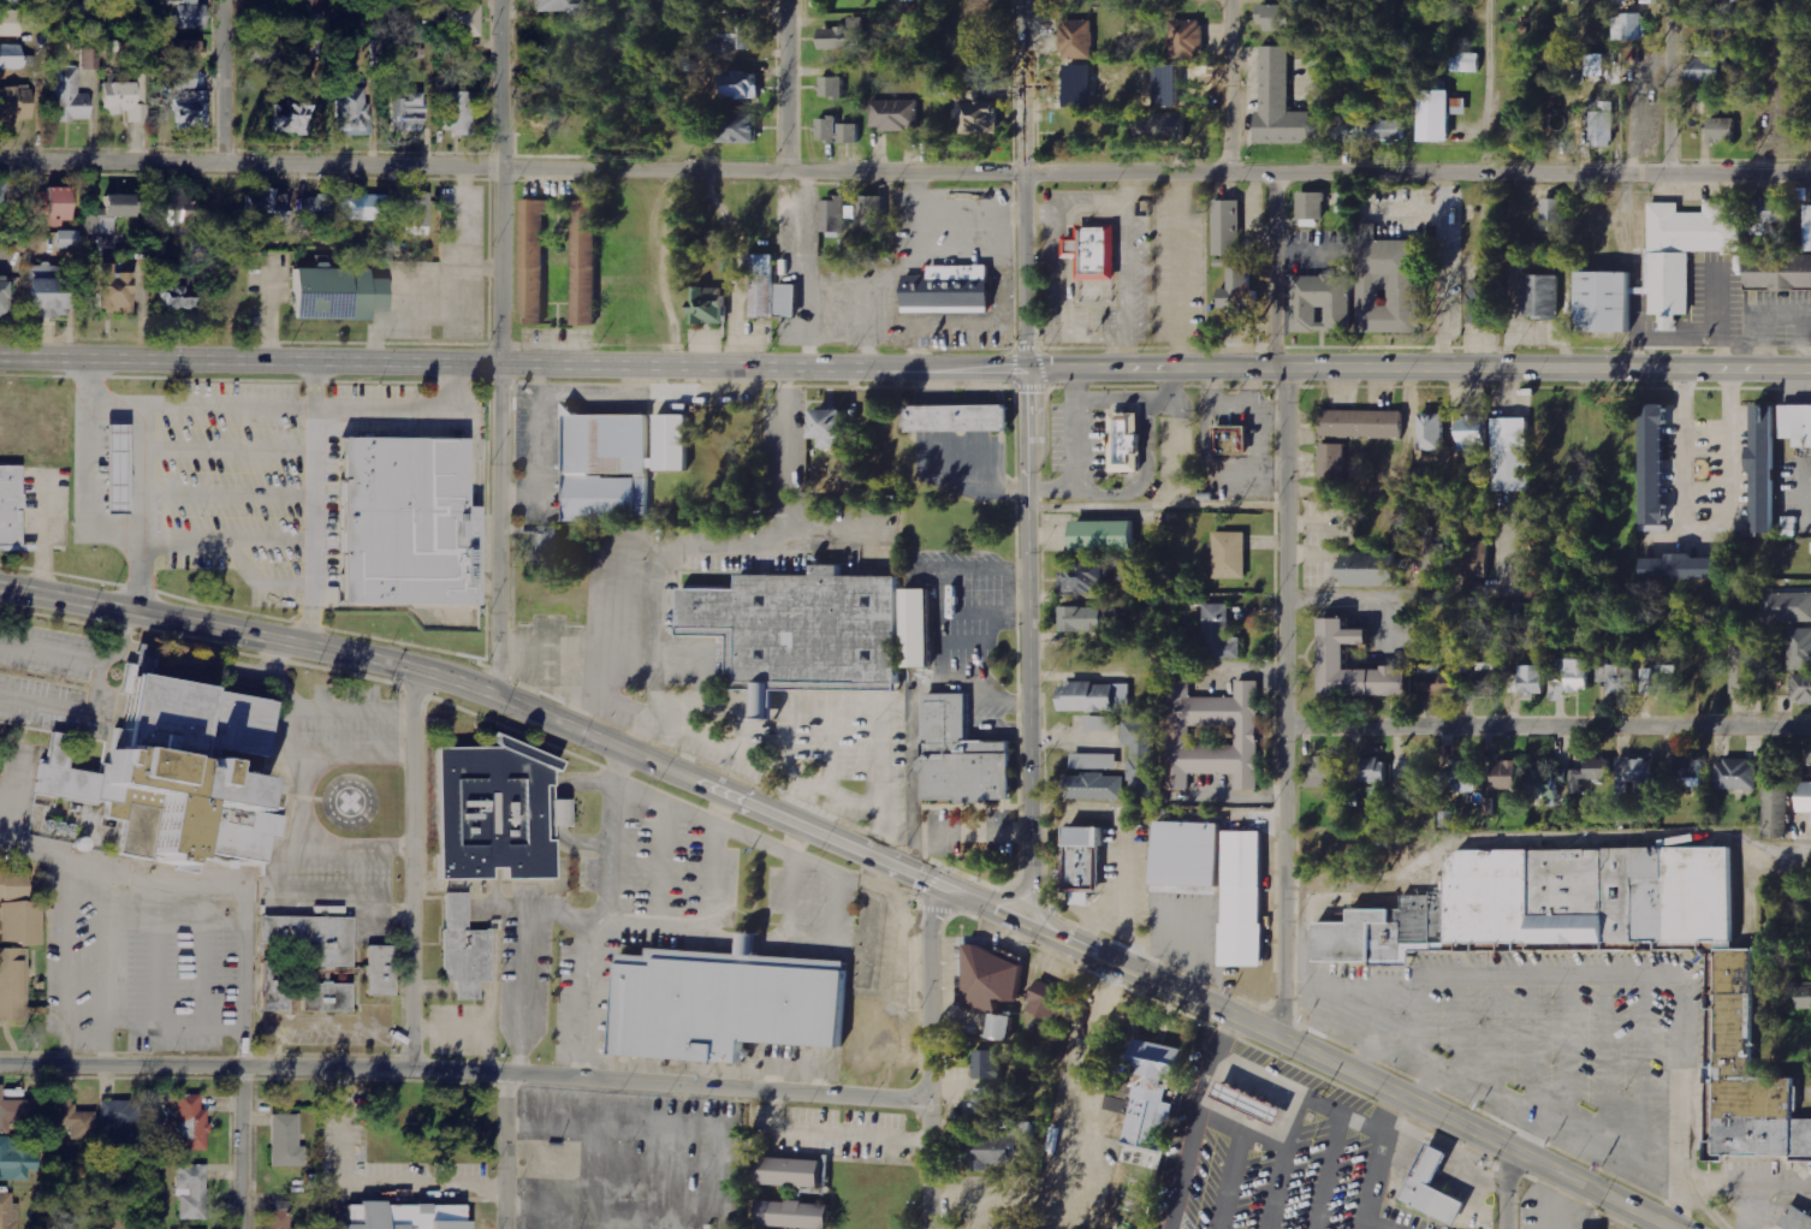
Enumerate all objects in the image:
building: (10, 1)
building: (737, 4)
building: (317, 5)
building: (559, 6)
building: (191, 16)
building: (1278, 17)
building: (463, 20)
building: (10, 24)
building: (845, 34)
building: (735, 37)
building: (1187, 37)
building: (1077, 38)
building: (189, 52)
building: (267, 52)
building: (11, 58)
building: (89, 59)
building: (1466, 61)
building: (1598, 64)
building: (1708, 69)
building: (190, 79)
road: (220, 81)
road: (794, 83)
building: (741, 84)
road: (1225, 84)
road: (1489, 85)
building: (832, 87)
road: (1665, 87)
building: (69, 96)
building: (124, 101)
building: (1277, 102)
building: (13, 107)
building: (191, 111)
building: (352, 112)
building: (408, 112)
building: (459, 113)
building: (895, 114)
building: (1436, 115)
building: (291, 117)
building: (981, 117)
building: (1162, 125)
building: (1604, 125)
building: (741, 127)
building: (1370, 127)
building: (829, 129)
building: (1722, 129)
building: (850, 132)
road: (904, 166)
road: (500, 183)
road: (1026, 185)
building: (2, 194)
building: (1344, 202)
building: (52, 203)
building: (267, 204)
building: (1312, 204)
building: (364, 208)
building: (315, 209)
building: (177, 212)
building: (417, 213)
building: (837, 213)
building: (873, 213)
building: (1555, 214)
building: (1770, 214)
building: (1229, 226)
building: (66, 239)
building: (1681, 253)
building: (1092, 261)
building: (530, 263)
building: (583, 263)
road: (1273, 271)
building: (1780, 274)
building: (762, 283)
building: (1390, 287)
building: (112, 290)
building: (1239, 290)
building: (948, 291)
building: (47, 292)
building: (339, 293)
building: (178, 295)
building: (1539, 297)
building: (2, 299)
building: (789, 299)
building: (1484, 302)
building: (1320, 303)
building: (1608, 303)
building: (708, 305)
road: (513, 367)
road: (1419, 368)
traffic signals: (1028, 372)
building: (957, 418)
building: (1364, 423)
building: (1798, 424)
building: (832, 426)
building: (1433, 432)
building: (1474, 433)
building: (1233, 439)
building: (673, 441)
building: (1127, 441)
building: (1512, 453)
building: (1653, 463)
building: (1334, 464)
building: (112, 467)
gas station: (112, 467)
building: (608, 467)
building: (1767, 467)
road: (310, 505)
building: (11, 507)
building: (405, 521)
road: (500, 530)
building: (1105, 535)
building: (548, 545)
road: (695, 547)
building: (1433, 553)
building: (1230, 554)
building: (1472, 559)
building: (1685, 568)
building: (1127, 569)
building: (1372, 569)
building: (1083, 576)
road: (1412, 598)
building: (1788, 605)
building: (1083, 618)
building: (920, 628)
building: (802, 629)
building: (1221, 633)
building: (1799, 648)
road: (1029, 649)
building: (1337, 655)
building: (1744, 666)
building: (1579, 675)
building: (1483, 676)
building: (1617, 677)
building: (1436, 679)
building: (1659, 679)
building: (1801, 688)
building: (1558, 690)
building: (1097, 696)
road: (1285, 706)
road: (530, 707)
building: (1102, 723)
road: (1548, 730)
building: (1245, 735)
building: (961, 755)
building: (1810, 755)
building: (1144, 756)
building: (1095, 761)
building: (183, 768)
building: (1372, 770)
building: (1413, 771)
building: (1325, 772)
building: (1591, 772)
building: (1690, 772)
building: (1736, 773)
building: (1507, 774)
building: (1637, 776)
building: (1466, 777)
building: (1548, 783)
building: (1094, 786)
building: (1805, 797)
helipad: (349, 801)
building: (1777, 811)
building: (498, 813)
road: (705, 821)
building: (1188, 856)
building: (1083, 862)
road: (415, 868)
traffic signals: (928, 885)
building: (1242, 898)
building: (1550, 904)
building: (18, 913)
road: (724, 916)
road: (613, 930)
building: (465, 950)
road: (534, 956)
building: (331, 963)
building: (381, 972)
road: (1658, 972)
building: (994, 980)
building: (12, 982)
building: (1805, 996)
building: (328, 998)
building: (1049, 1001)
building: (728, 1004)
road: (1378, 1015)
building: (1003, 1027)
road: (925, 1057)
building: (987, 1065)
road: (462, 1071)
road: (1359, 1077)
road: (1424, 1088)
building: (1156, 1094)
building: (1251, 1100)
gas station: (1251, 1100)
building: (986, 1104)
building: (1118, 1104)
building: (16, 1115)
road: (1522, 1115)
building: (121, 1120)
road: (1195, 1121)
building: (70, 1124)
building: (192, 1124)
road: (1527, 1136)
building: (286, 1141)
road: (247, 1150)
road: (507, 1151)
building: (992, 1152)
building: (16, 1160)
road: (1378, 1160)
building: (794, 1172)
building: (1436, 1188)
road: (1508, 1188)
building: (192, 1192)
road: (1675, 1205)
building: (8, 1212)
building: (797, 1215)
building: (412, 1217)
building: (1798, 1218)
building: (283, 1219)

